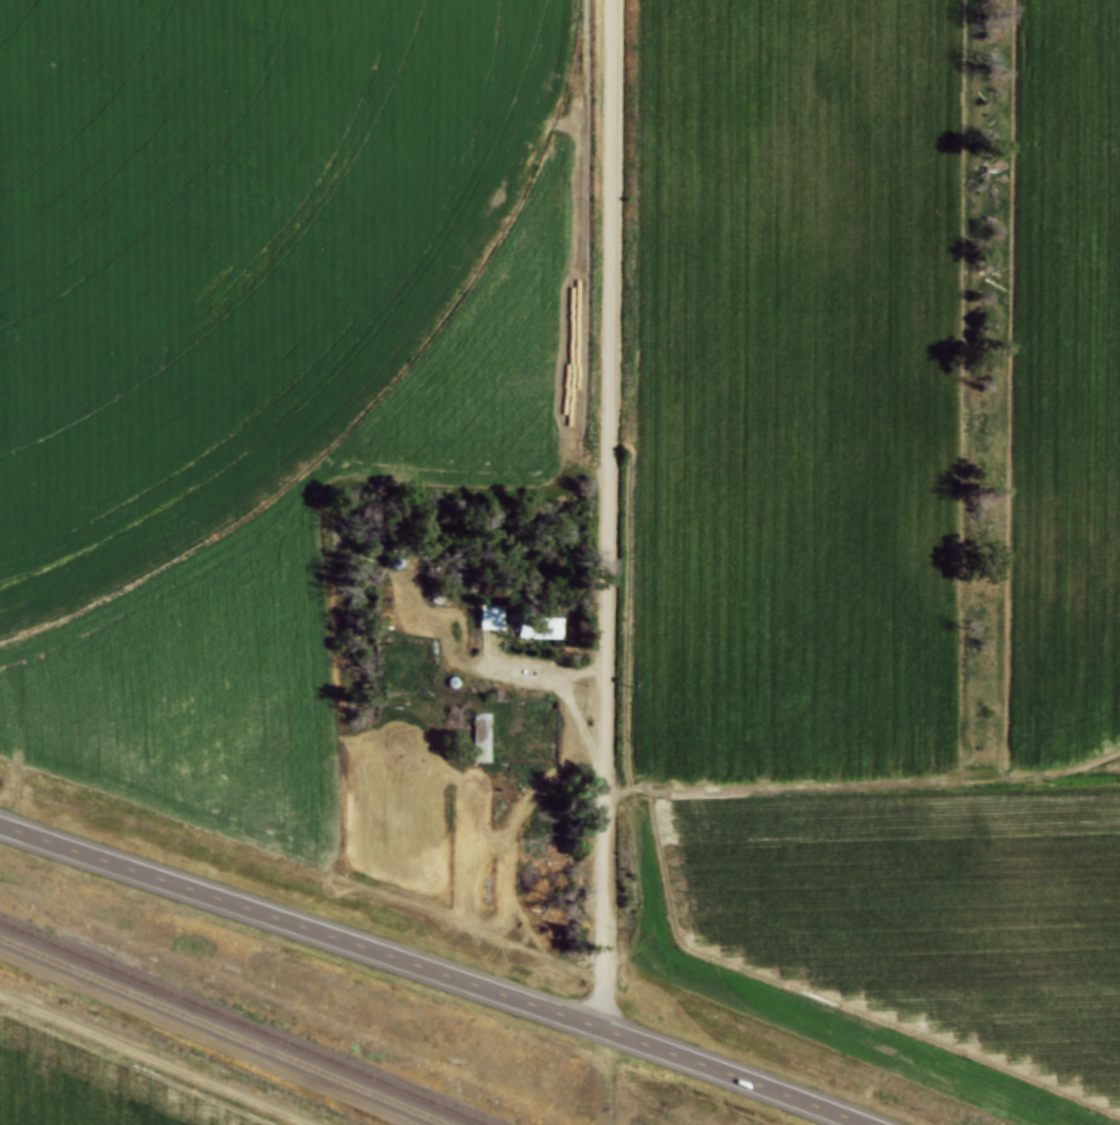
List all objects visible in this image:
road: (606, 513)
building: (489, 615)
road: (571, 694)
building: (483, 736)
road: (434, 970)
railway: (243, 1023)
railway: (225, 1031)

